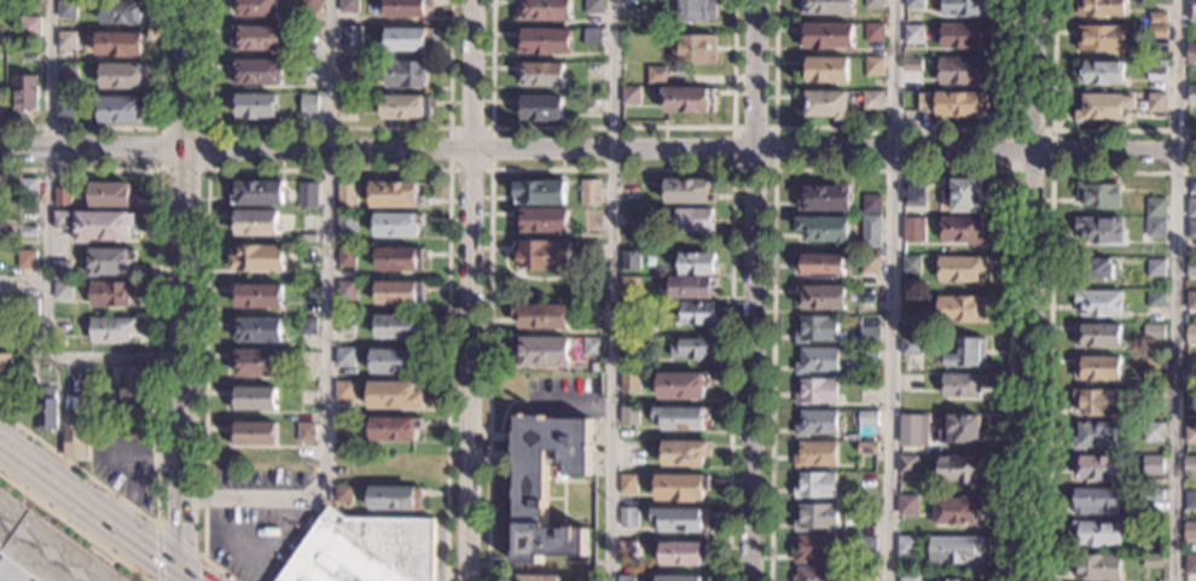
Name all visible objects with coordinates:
building: (873, 4)
building: (913, 4)
building: (309, 5)
building: (349, 6)
building: (593, 6)
building: (828, 7)
building: (962, 7)
building: (256, 8)
building: (407, 8)
building: (1101, 8)
building: (66, 10)
building: (544, 10)
building: (122, 11)
building: (692, 11)
building: (1191, 11)
building: (1157, 18)
building: (30, 27)
building: (872, 33)
building: (1157, 33)
building: (912, 34)
building: (655, 36)
building: (825, 36)
building: (960, 36)
building: (593, 37)
building: (257, 39)
building: (1102, 39)
building: (352, 40)
building: (407, 40)
building: (66, 41)
building: (544, 42)
building: (120, 43)
building: (695, 50)
building: (1191, 53)
building: (911, 65)
building: (348, 66)
building: (873, 66)
building: (823, 69)
building: (1157, 70)
building: (962, 71)
building: (256, 72)
building: (407, 74)
building: (1099, 74)
building: (541, 75)
building: (655, 75)
building: (66, 76)
building: (122, 76)
building: (25, 94)
building: (631, 95)
building: (1191, 95)
building: (872, 100)
building: (690, 101)
building: (1156, 103)
building: (309, 104)
building: (349, 104)
building: (825, 104)
building: (952, 104)
building: (592, 105)
building: (255, 106)
building: (407, 108)
building: (1102, 108)
building: (63, 109)
building: (539, 109)
building: (120, 110)
road: (144, 128)
road: (161, 128)
road: (327, 128)
road: (492, 128)
road: (611, 128)
road: (894, 128)
road: (1059, 129)
road: (45, 143)
road: (598, 149)
road: (774, 168)
road: (320, 170)
road: (611, 170)
road: (892, 170)
road: (1011, 172)
building: (27, 188)
building: (687, 192)
building: (257, 193)
building: (539, 193)
building: (590, 193)
building: (631, 193)
building: (913, 193)
building: (395, 194)
building: (962, 194)
building: (111, 196)
building: (308, 196)
building: (1098, 196)
building: (63, 197)
building: (348, 197)
building: (825, 198)
building: (23, 204)
building: (871, 204)
building: (1155, 208)
building: (1191, 209)
building: (63, 220)
building: (695, 220)
building: (544, 221)
building: (255, 222)
building: (347, 222)
building: (397, 225)
building: (103, 226)
building: (1155, 227)
building: (913, 228)
building: (824, 230)
building: (1191, 230)
building: (870, 231)
building: (962, 231)
building: (1101, 231)
building: (28, 232)
building: (591, 251)
building: (544, 255)
building: (308, 256)
building: (346, 257)
building: (257, 258)
building: (30, 260)
building: (400, 260)
building: (631, 261)
building: (110, 262)
building: (696, 263)
building: (870, 265)
building: (910, 265)
building: (820, 266)
building: (1155, 268)
building: (962, 269)
building: (1096, 269)
building: (1191, 269)
building: (62, 271)
road: (184, 285)
building: (629, 286)
building: (691, 287)
road: (471, 290)
road: (609, 290)
road: (754, 290)
road: (893, 290)
road: (1030, 290)
road: (1177, 290)
building: (63, 291)
building: (346, 291)
building: (111, 294)
building: (400, 294)
building: (259, 297)
building: (821, 297)
building: (869, 298)
building: (1155, 300)
building: (1190, 301)
building: (1099, 303)
road: (1049, 304)
building: (29, 306)
building: (4, 307)
building: (631, 308)
building: (960, 308)
building: (697, 314)
building: (541, 316)
road: (325, 321)
building: (346, 325)
building: (307, 327)
building: (399, 327)
building: (111, 330)
building: (817, 330)
building: (257, 331)
building: (1153, 331)
building: (1097, 336)
building: (1191, 336)
building: (869, 337)
building: (60, 342)
building: (592, 347)
building: (910, 347)
building: (692, 348)
building: (542, 350)
building: (968, 354)
building: (867, 355)
road: (54, 356)
building: (346, 358)
building: (394, 361)
building: (817, 361)
road: (157, 364)
building: (256, 364)
building: (1155, 364)
building: (1190, 364)
building: (1097, 368)
building: (5, 372)
building: (132, 382)
building: (629, 382)
building: (683, 385)
building: (963, 385)
building: (815, 391)
building: (346, 393)
building: (306, 396)
building: (396, 396)
building: (1190, 396)
building: (252, 399)
building: (1153, 400)
building: (1097, 402)
building: (48, 409)
building: (124, 409)
building: (628, 416)
building: (681, 418)
building: (866, 419)
building: (815, 423)
building: (344, 426)
building: (394, 429)
building: (962, 430)
building: (911, 431)
building: (1138, 431)
building: (306, 432)
building: (1153, 432)
building: (1190, 434)
building: (252, 435)
building: (75, 436)
building: (1093, 436)
building: (867, 448)
building: (627, 452)
building: (684, 453)
building: (815, 454)
building: (344, 459)
building: (394, 463)
building: (907, 465)
building: (1151, 465)
building: (1189, 465)
building: (1098, 467)
building: (962, 470)
parking lot: (260, 480)
building: (627, 483)
building: (815, 486)
building: (680, 488)
building: (343, 494)
building: (1154, 495)
building: (395, 499)
building: (529, 499)
building: (1190, 500)
building: (1095, 501)
building: (907, 505)
road: (97, 510)
building: (957, 511)
building: (866, 512)
building: (815, 517)
building: (627, 518)
building: (679, 519)
road: (72, 528)
building: (1153, 529)
road: (166, 530)
building: (1189, 530)
building: (1098, 534)
parking lot: (259, 538)
building: (907, 546)
building: (866, 547)
building: (45, 548)
building: (814, 548)
building: (365, 550)
building: (626, 550)
building: (957, 550)
building: (683, 554)
building: (1151, 560)
building: (1190, 565)
building: (1098, 568)
parking lot: (14, 570)
traffic signals: (179, 570)
building: (814, 574)
building: (866, 574)
road: (179, 575)
building: (534, 579)
building: (626, 579)
building: (680, 579)
building: (908, 580)
building: (957, 580)

